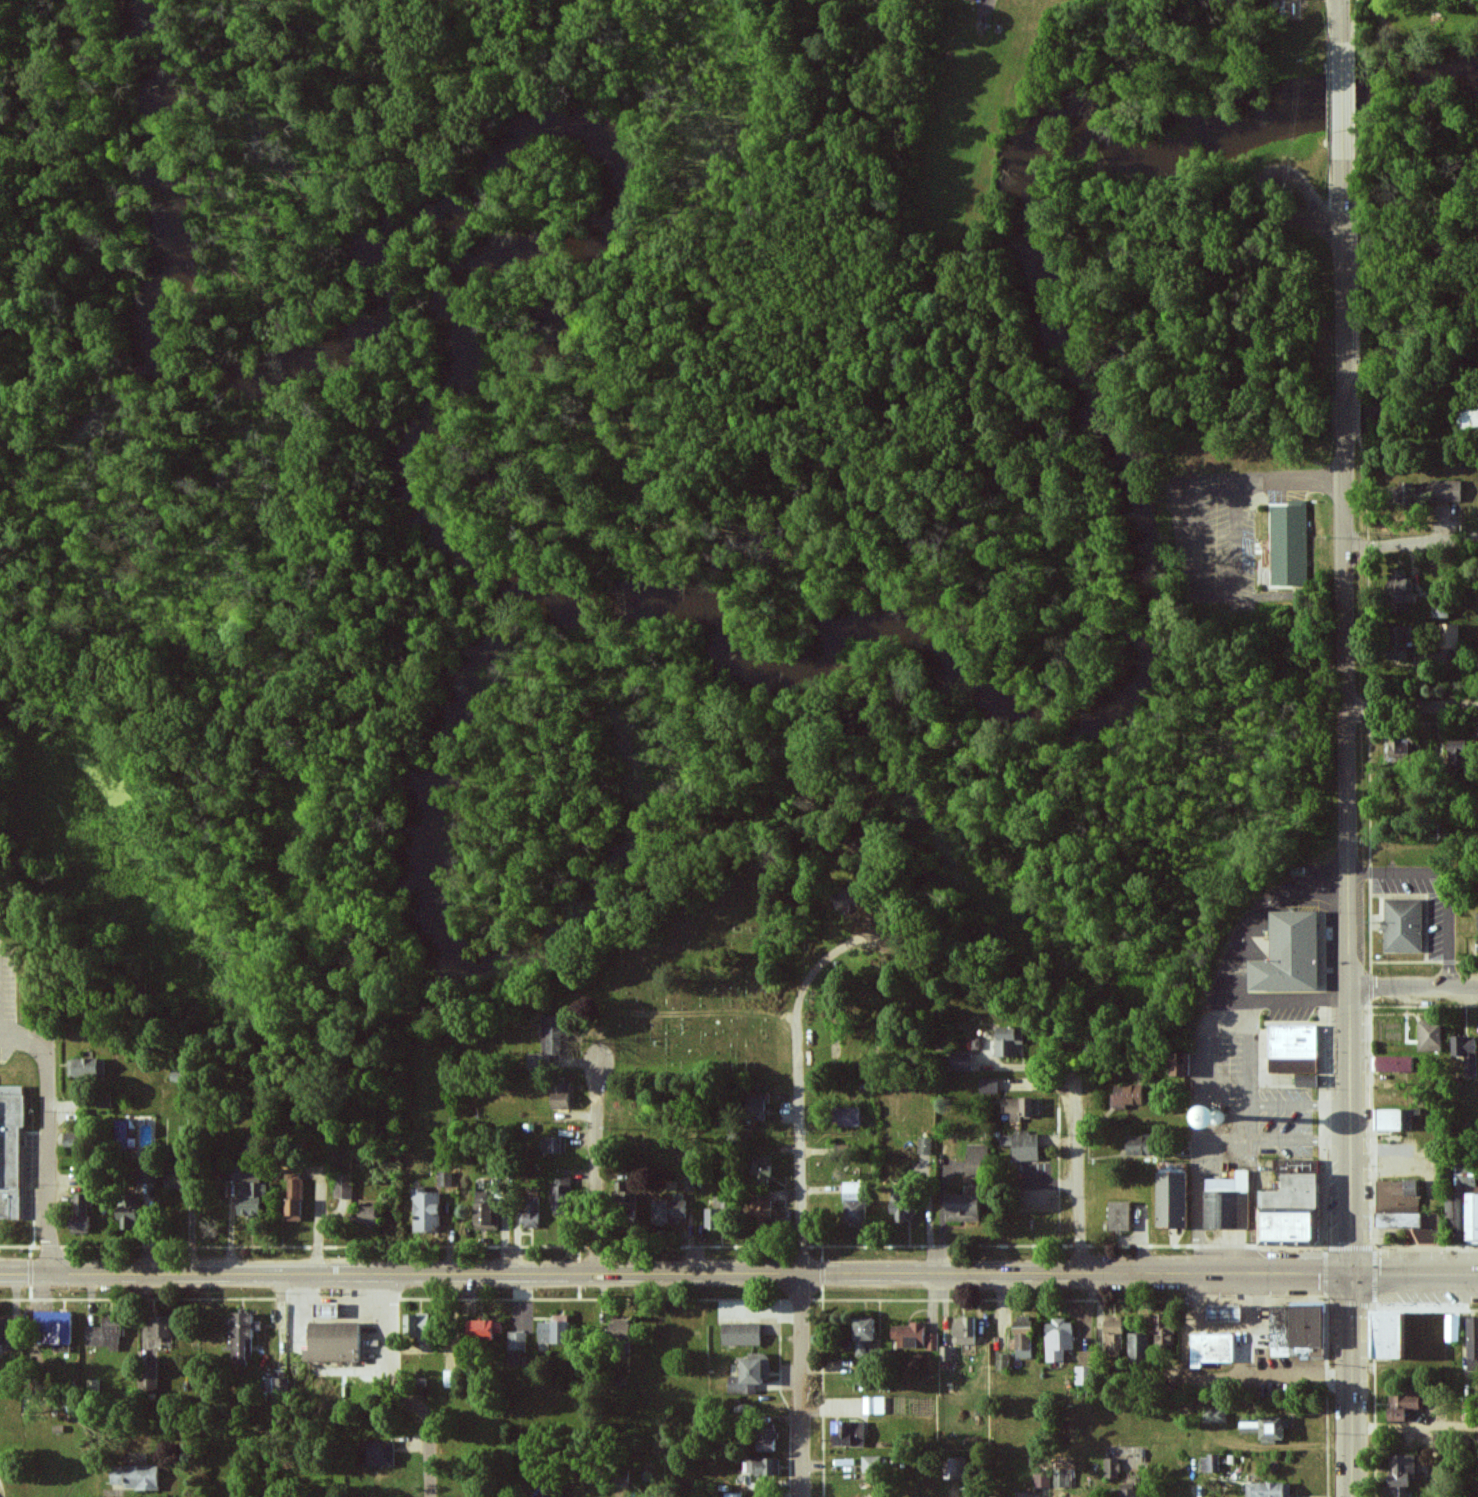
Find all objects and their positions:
building: (973, 0)
road: (1342, 14)
road: (1343, 102)
building: (1429, 491)
building: (1289, 543)
road: (1411, 543)
building: (1402, 590)
river: (590, 601)
building: (1441, 611)
building: (1450, 636)
building: (1400, 642)
road: (1412, 706)
road: (1346, 724)
building: (1400, 749)
building: (1460, 753)
building: (849, 899)
building: (1404, 925)
building: (1295, 956)
road: (1412, 988)
park: (697, 1010)
building: (1431, 1036)
road: (24, 1038)
building: (552, 1041)
building: (1011, 1041)
building: (1294, 1049)
building: (1467, 1053)
building: (963, 1061)
building: (1397, 1064)
building: (1183, 1065)
building: (87, 1067)
building: (1308, 1080)
building: (990, 1085)
building: (1130, 1095)
building: (562, 1096)
road: (798, 1096)
building: (757, 1105)
building: (1024, 1108)
building: (849, 1116)
water tower: (1216, 1117)
building: (1223, 1120)
building: (1395, 1120)
building: (122, 1134)
building: (554, 1144)
building: (925, 1145)
building: (1023, 1145)
building: (1140, 1145)
building: (10, 1149)
road: (48, 1158)
road: (596, 1160)
building: (978, 1160)
building: (763, 1169)
road: (1076, 1171)
building: (175, 1178)
building: (248, 1188)
building: (344, 1189)
building: (561, 1194)
building: (295, 1195)
building: (1175, 1200)
building: (1228, 1202)
building: (856, 1203)
building: (1294, 1203)
building: (1400, 1204)
building: (965, 1207)
building: (904, 1208)
building: (762, 1209)
building: (128, 1211)
building: (427, 1211)
building: (531, 1211)
building: (672, 1211)
building: (79, 1213)
building: (370, 1215)
building: (487, 1216)
building: (717, 1216)
building: (1121, 1216)
building: (1455, 1217)
building: (1472, 1217)
road: (321, 1225)
road: (674, 1275)
road: (1414, 1275)
building: (333, 1310)
building: (1226, 1313)
building: (417, 1325)
building: (161, 1327)
building: (1298, 1328)
building: (1453, 1328)
building: (54, 1329)
building: (621, 1329)
building: (484, 1330)
building: (556, 1330)
building: (966, 1330)
building: (4, 1331)
building: (106, 1334)
building: (743, 1334)
building: (1391, 1335)
building: (915, 1336)
building: (1167, 1336)
building: (1025, 1337)
building: (1115, 1337)
building: (241, 1338)
building: (1059, 1339)
building: (1473, 1342)
building: (338, 1343)
building: (865, 1345)
building: (517, 1348)
building: (1140, 1348)
building: (1214, 1348)
building: (947, 1353)
building: (150, 1375)
building: (751, 1375)
building: (1084, 1375)
road: (429, 1386)
road: (802, 1386)
road: (1351, 1386)
building: (1404, 1403)
building: (875, 1405)
building: (1217, 1415)
road: (1415, 1427)
building: (1268, 1428)
building: (850, 1433)
building: (767, 1444)
building: (377, 1453)
building: (1211, 1464)
building: (871, 1465)
building: (763, 1466)
building: (957, 1468)
building: (1112, 1468)
building: (1402, 1474)
building: (136, 1477)
building: (1043, 1479)
building: (1129, 1490)
building: (1269, 1490)
building: (1022, 1494)
building: (734, 1495)

